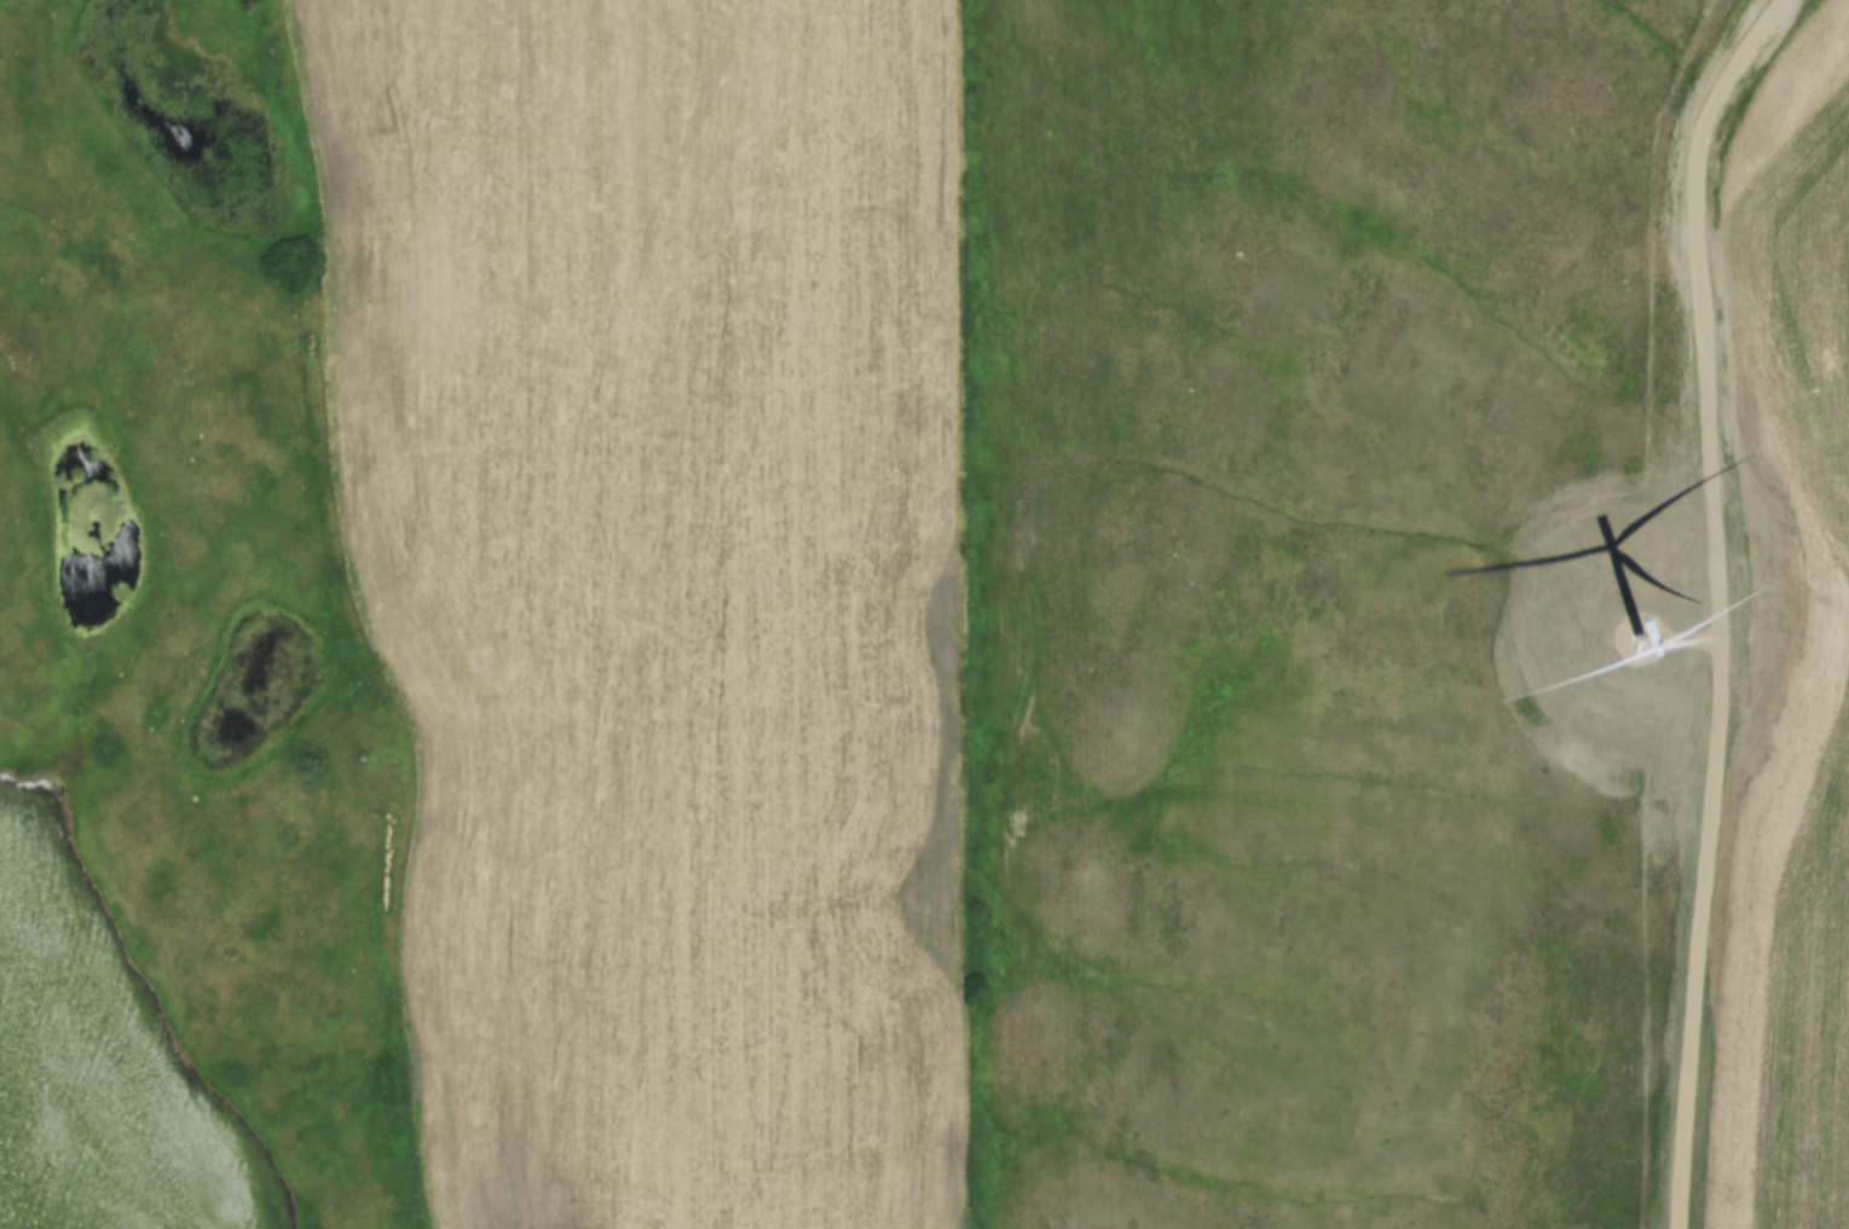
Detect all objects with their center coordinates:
wind turbine: (1629, 627)

